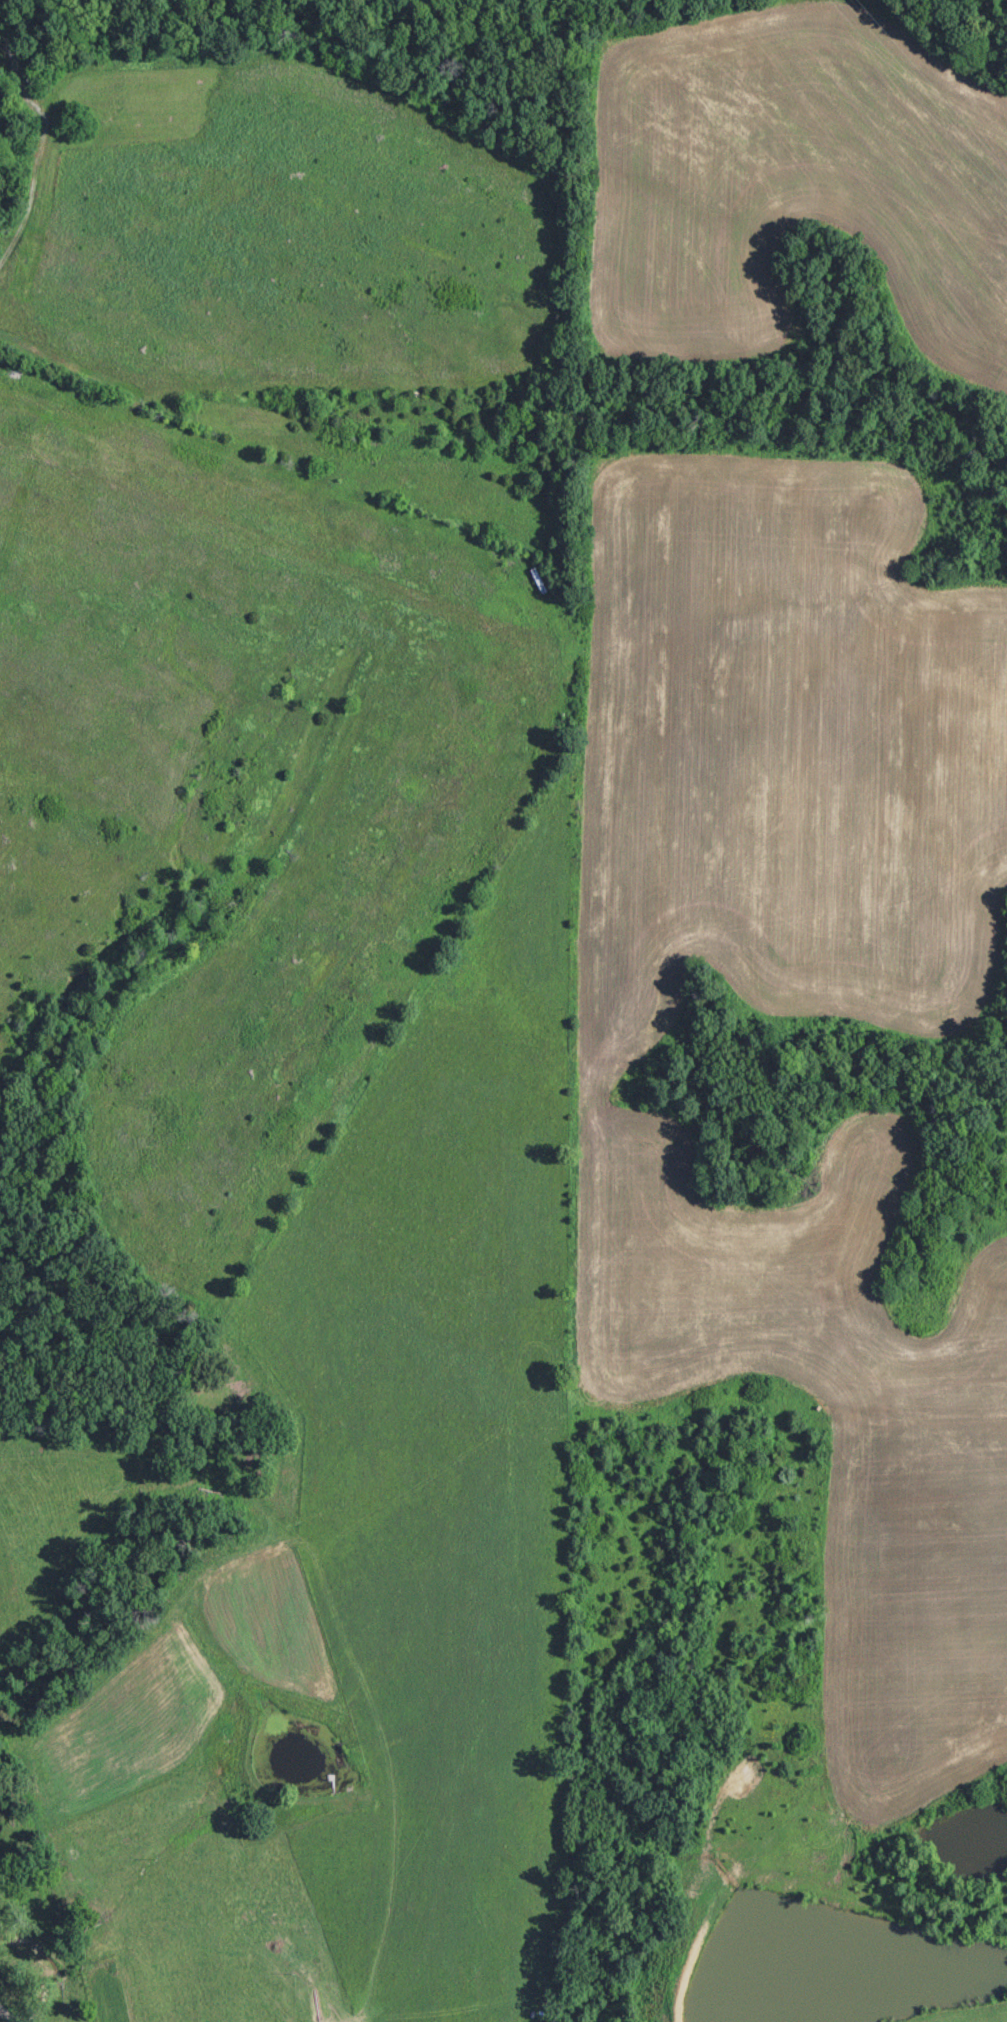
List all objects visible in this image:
road: (12, 2013)

